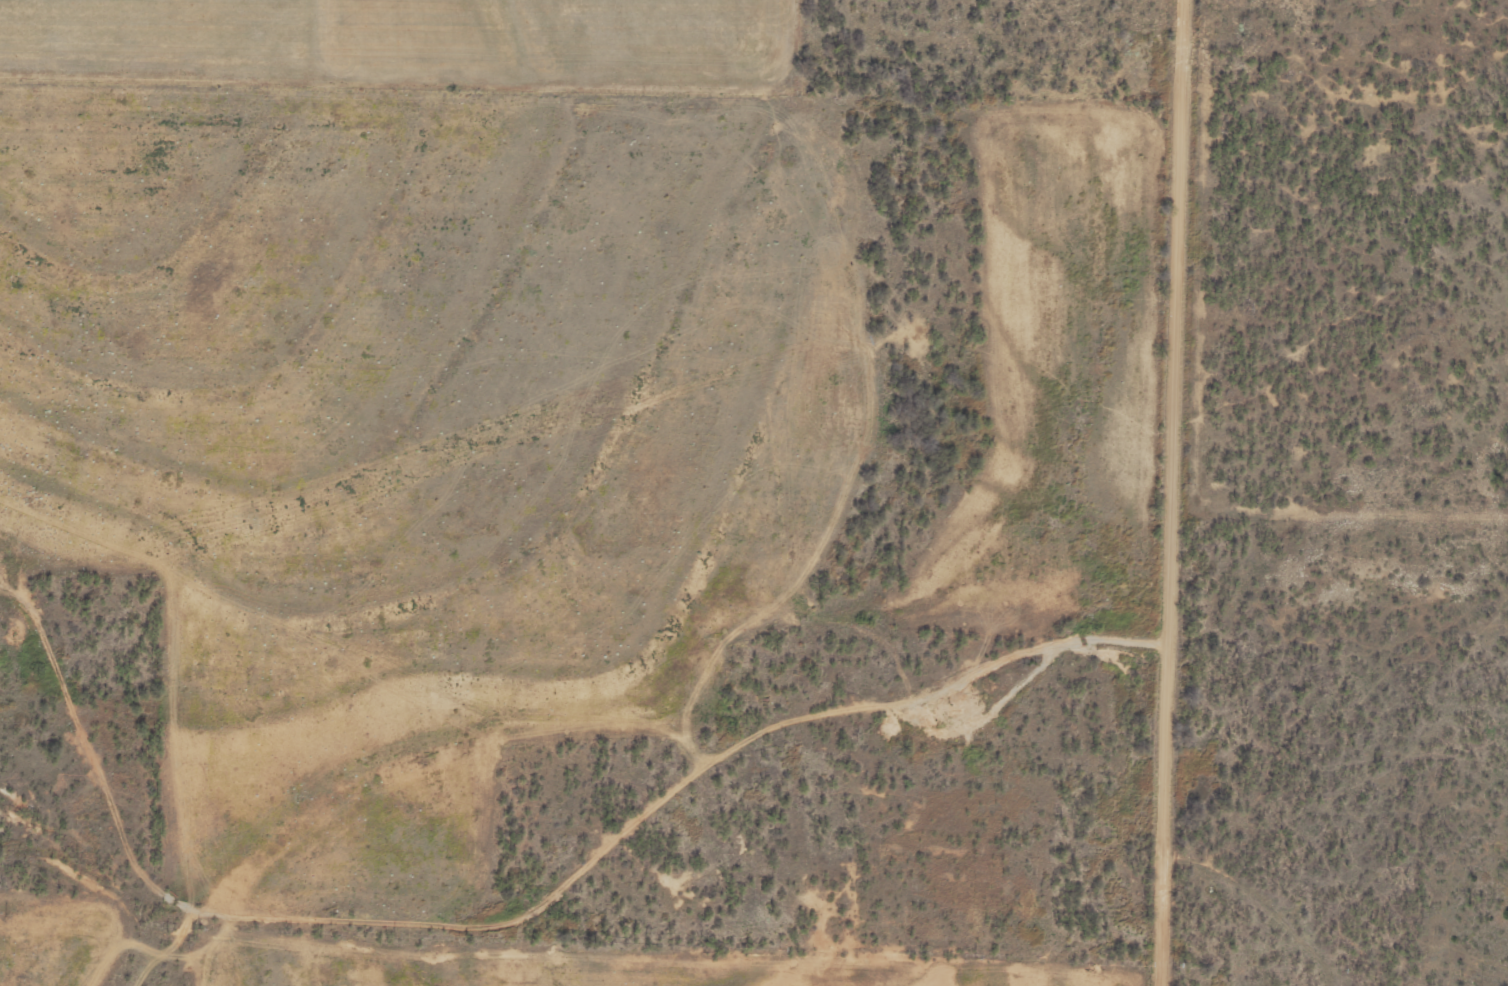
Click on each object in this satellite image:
road: (1173, 493)
road: (592, 865)

